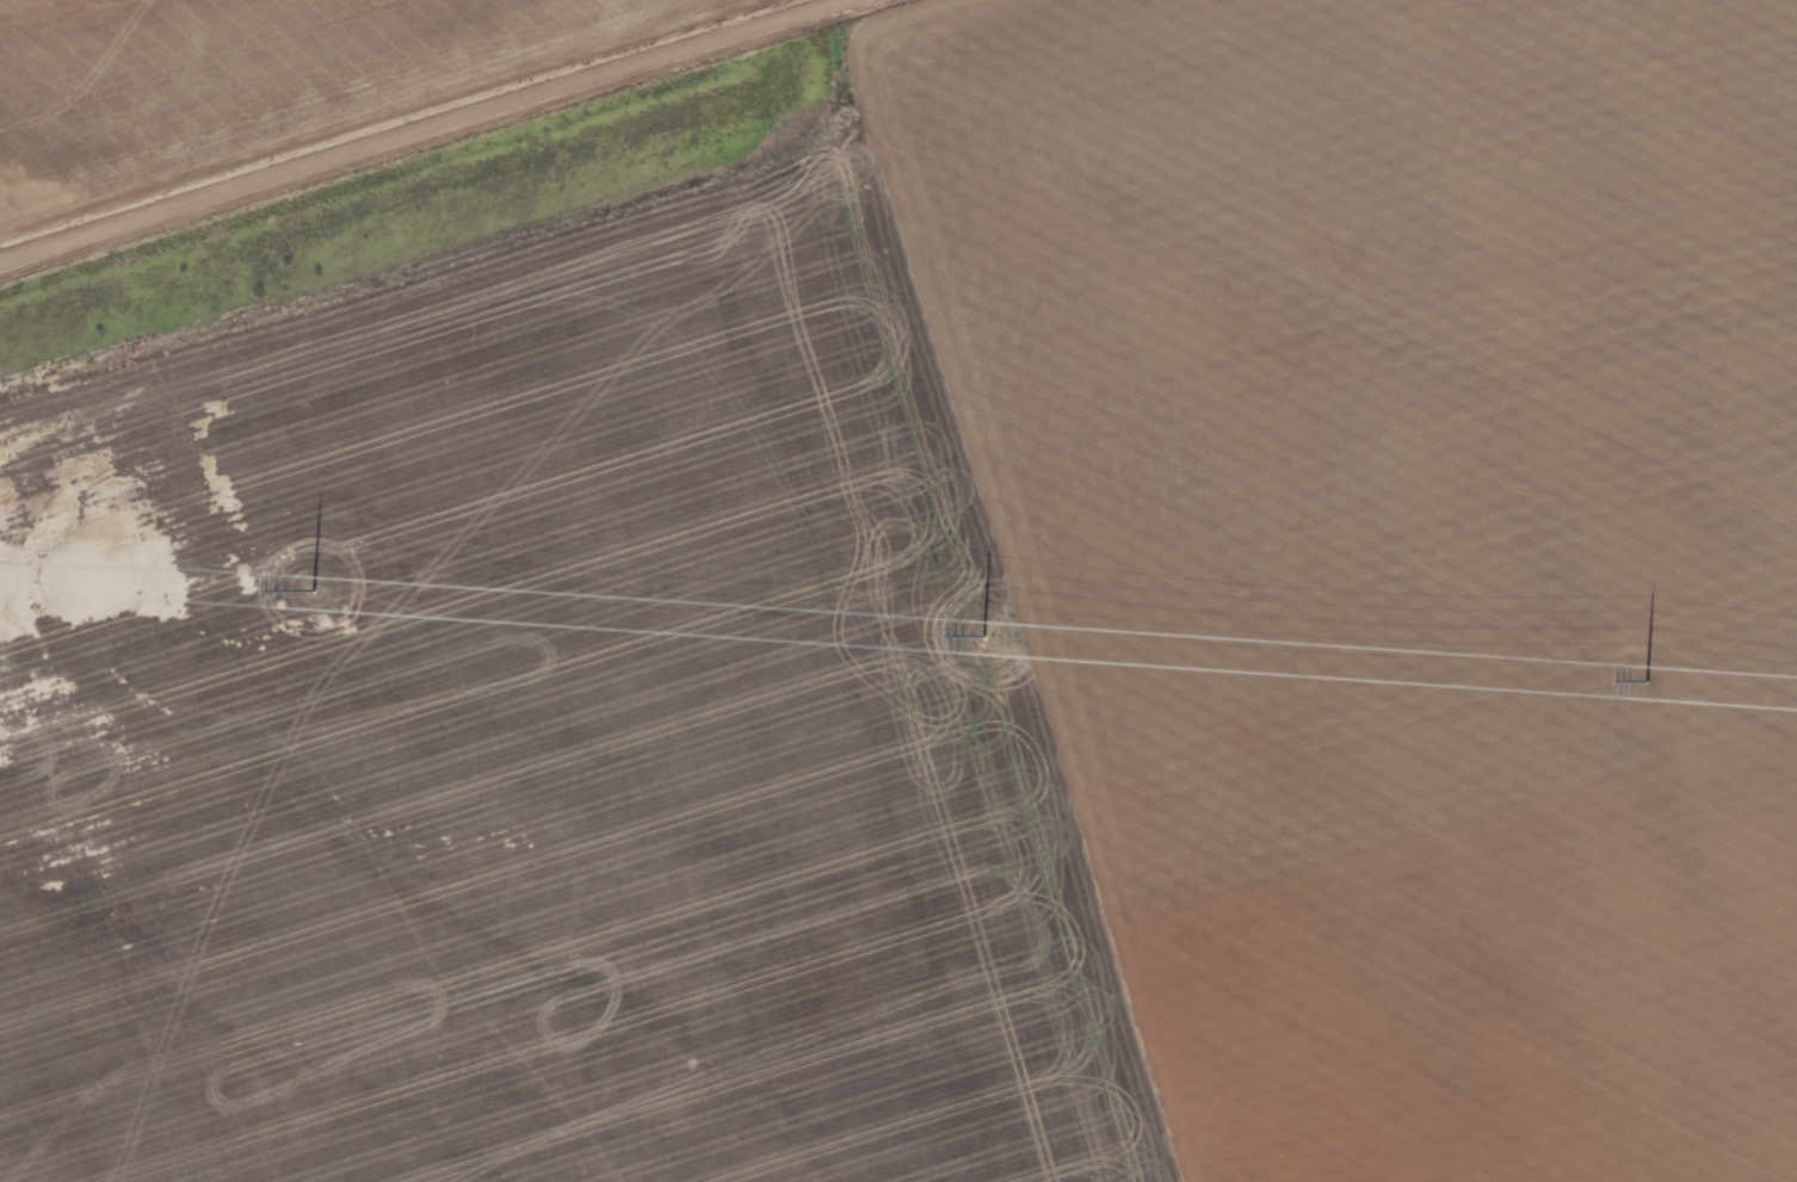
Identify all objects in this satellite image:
road: (425, 129)
power tower: (316, 588)
power tower: (986, 636)
power tower: (1648, 680)

